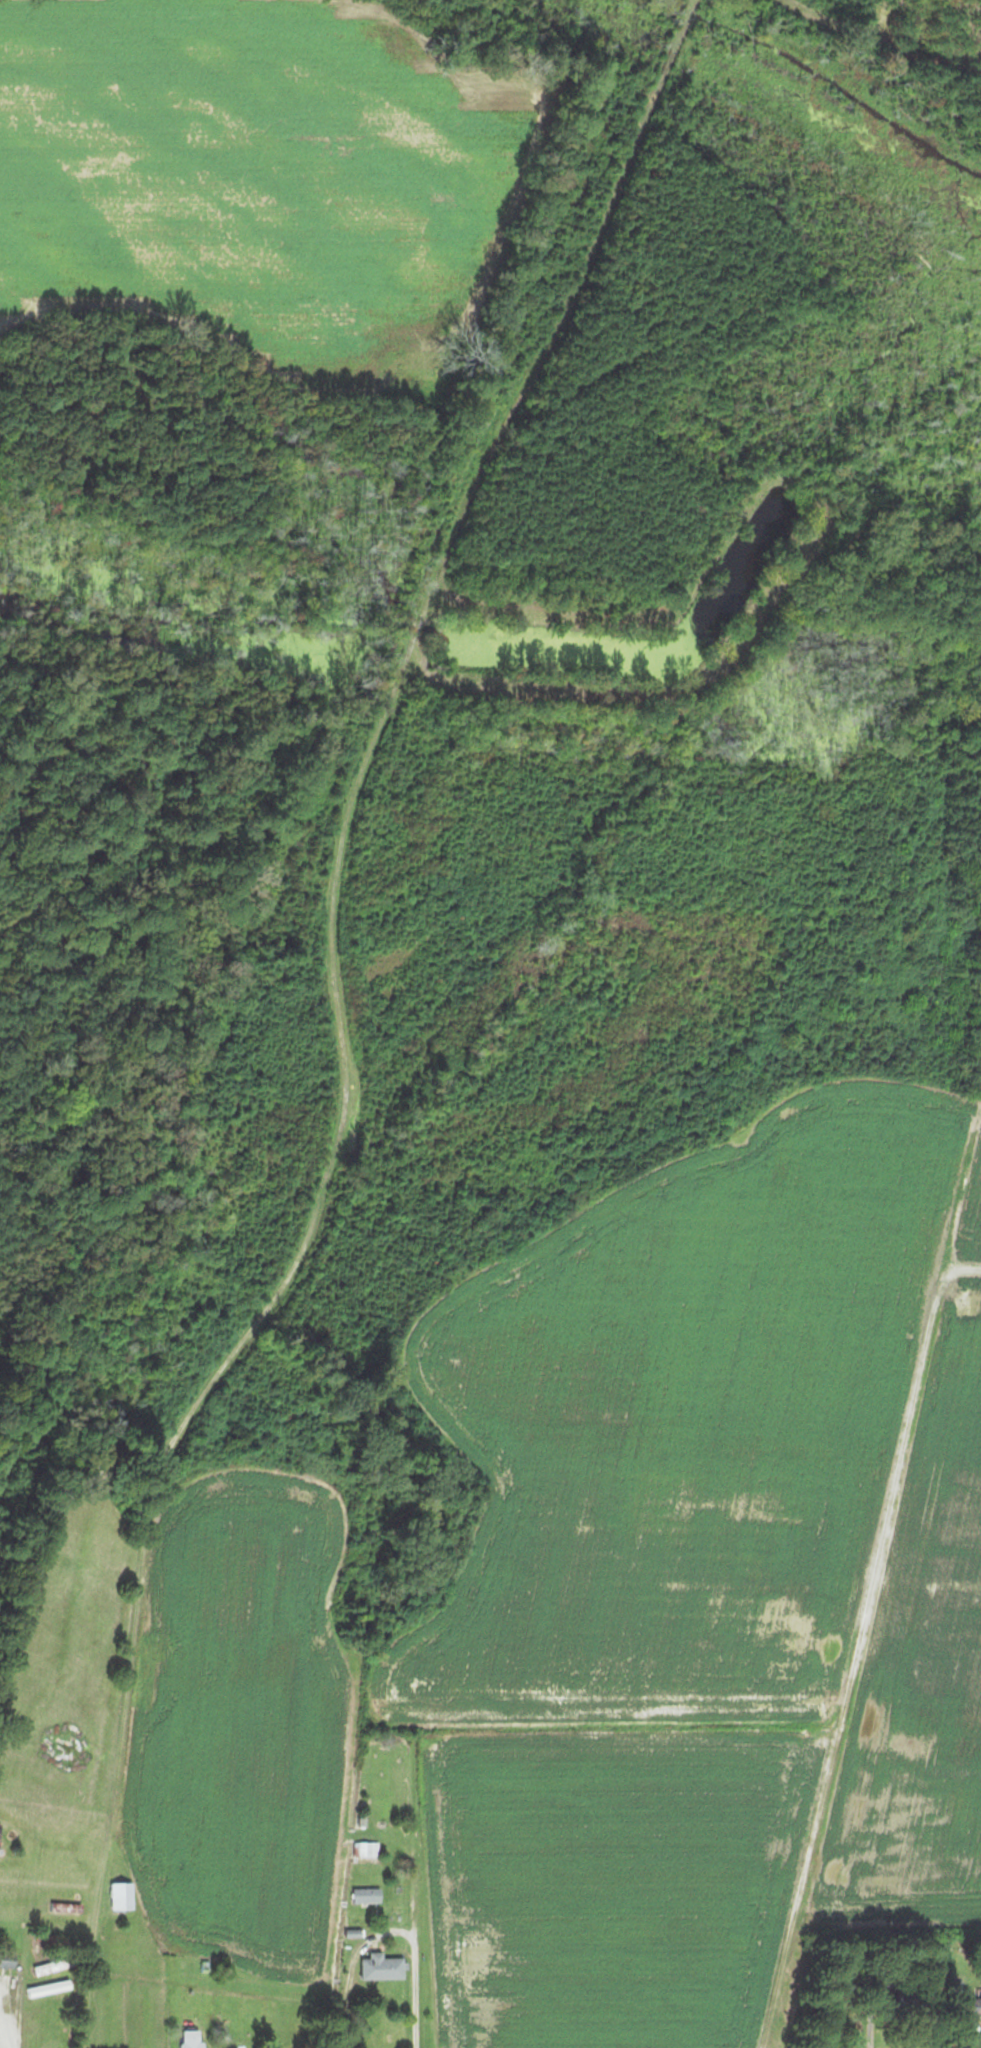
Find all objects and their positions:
building: (65, 1845)
building: (362, 1848)
building: (362, 1894)
building: (117, 1895)
building: (5, 1958)
building: (377, 1966)
building: (969, 2002)
building: (187, 2038)

